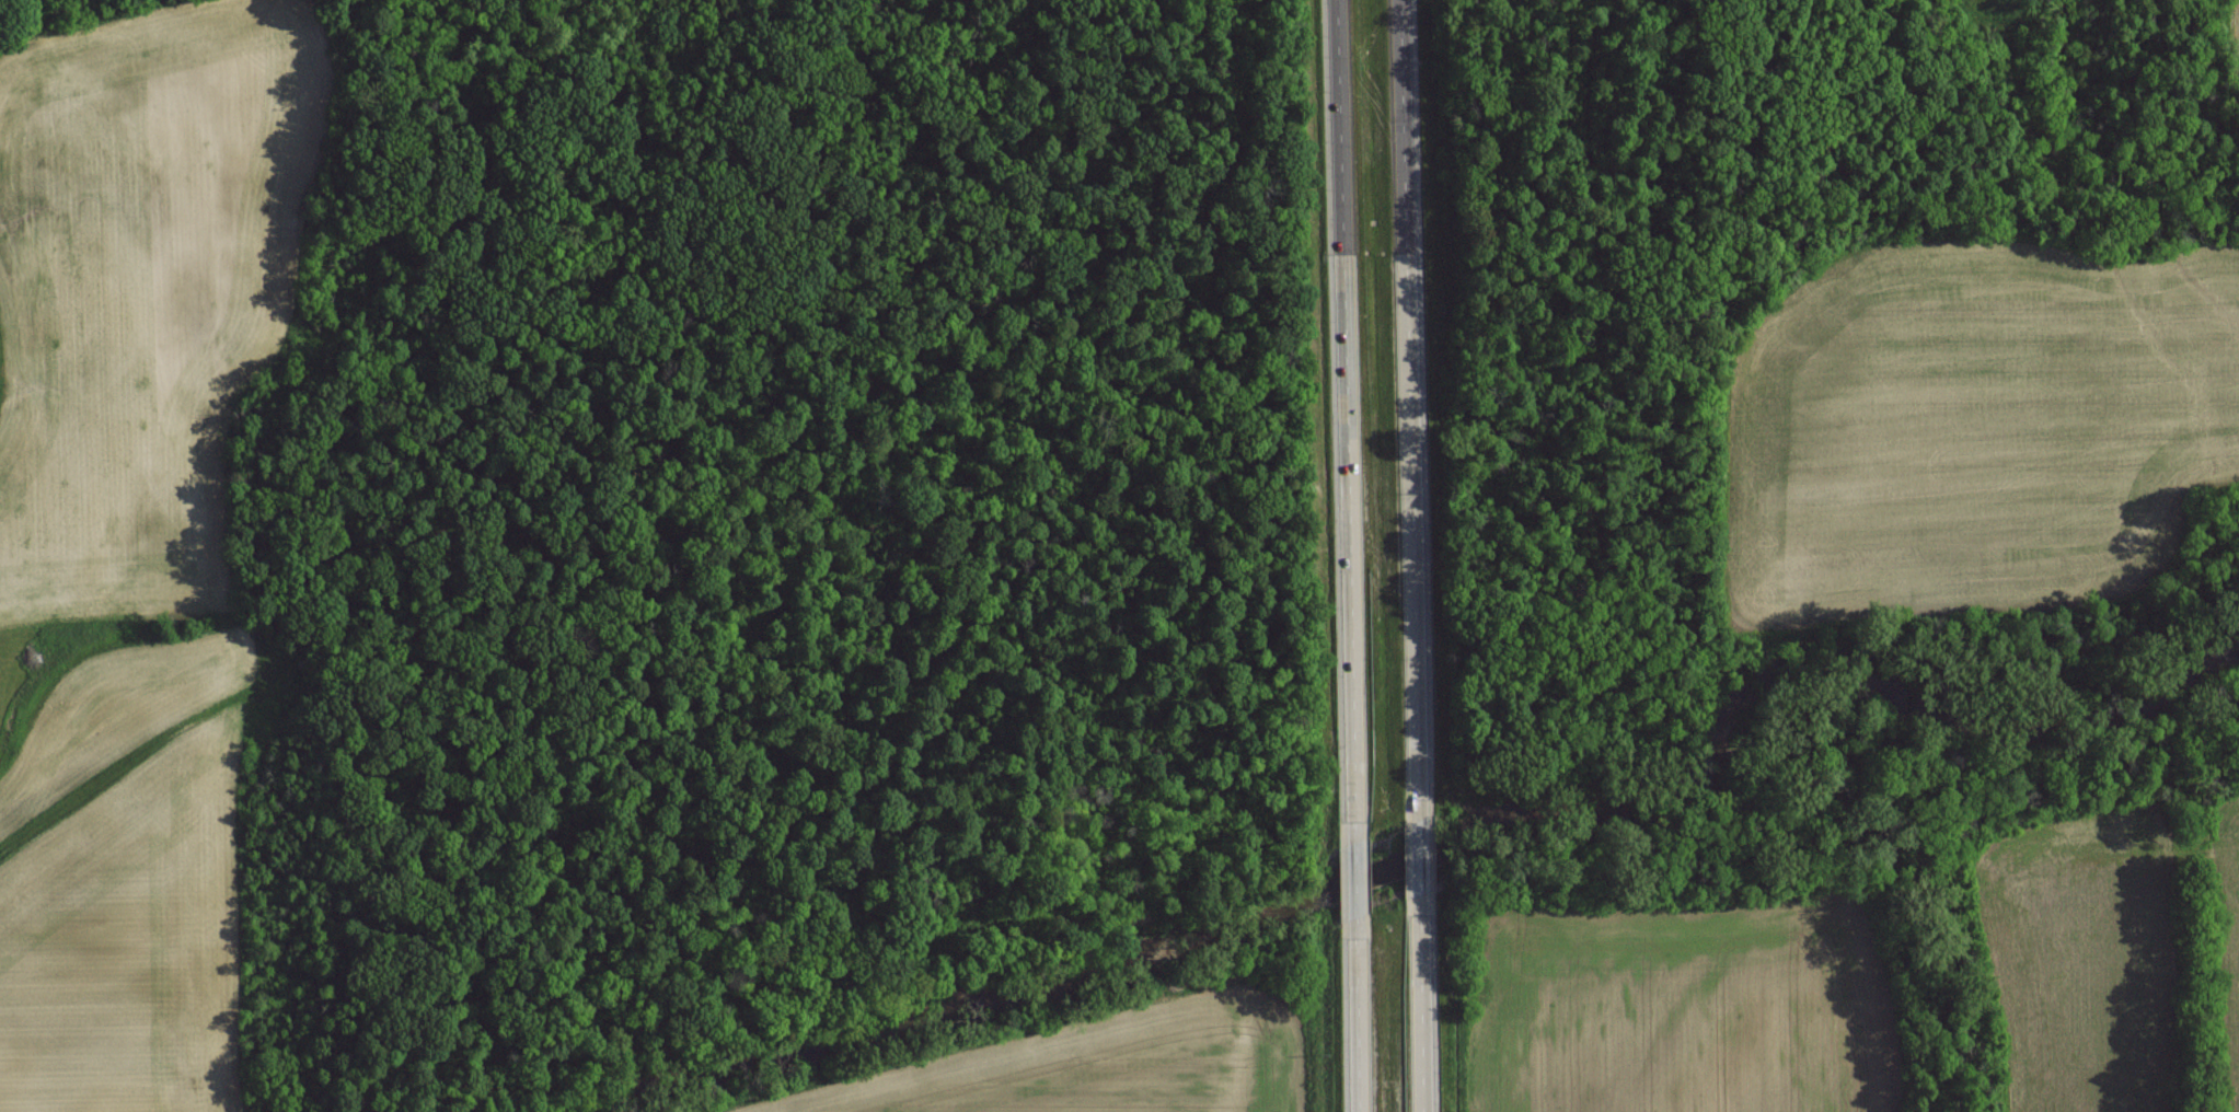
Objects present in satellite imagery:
road: (1408, 409)
road: (1344, 420)
road: (1419, 858)
road: (1355, 879)
road: (1420, 1004)
road: (1357, 1015)

